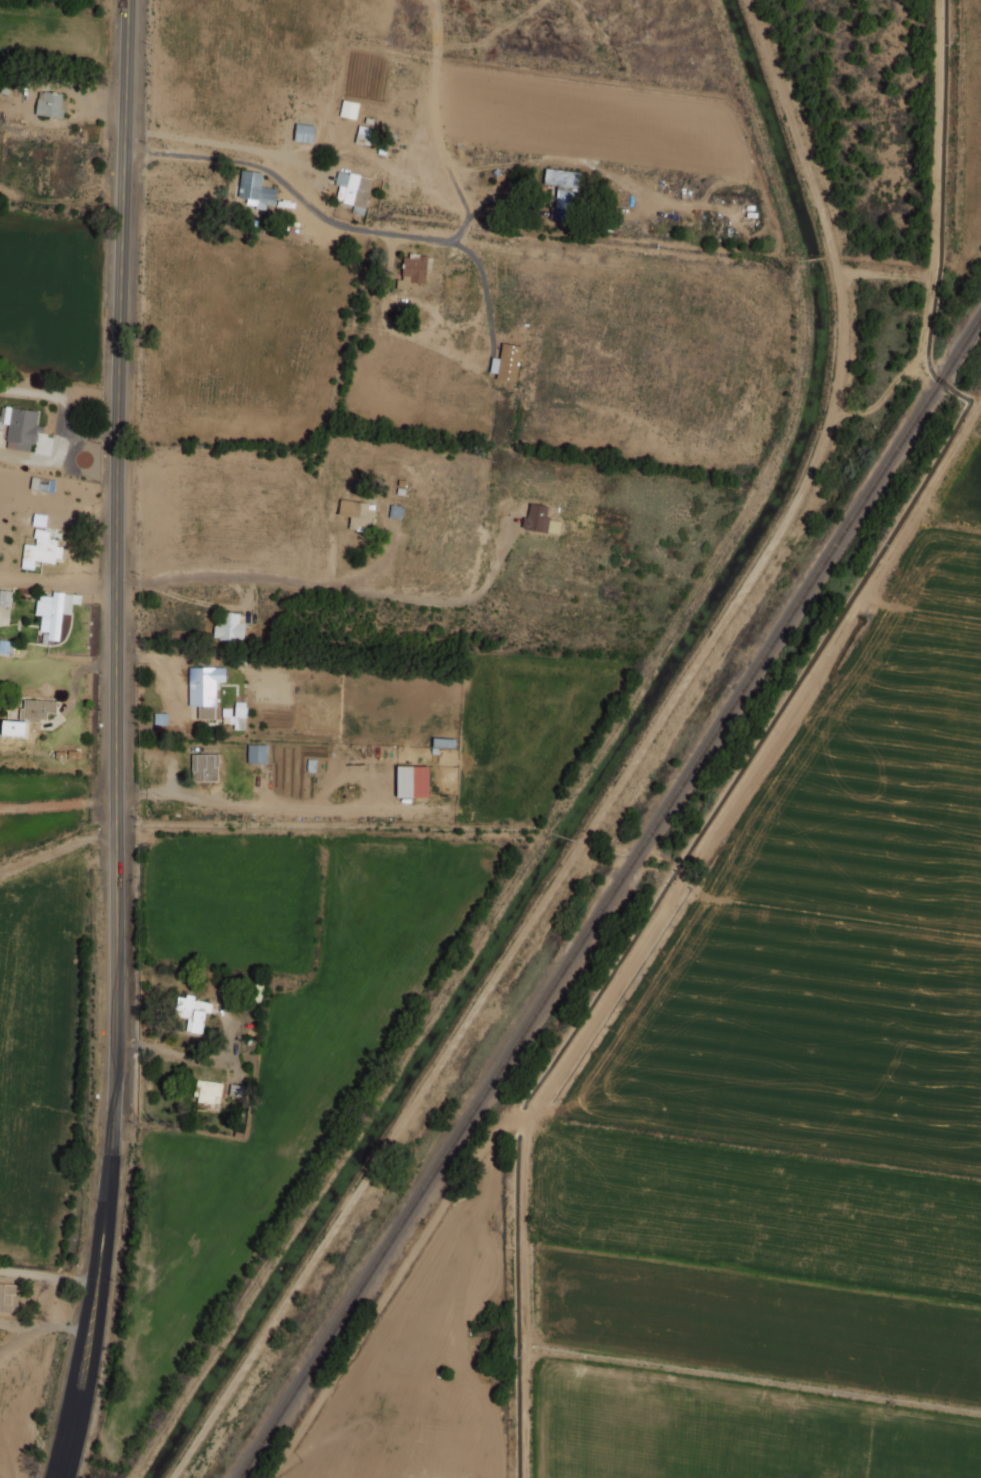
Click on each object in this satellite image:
building: (49, 104)
building: (348, 109)
building: (304, 132)
building: (363, 135)
building: (352, 188)
building: (255, 189)
building: (562, 192)
road: (405, 238)
building: (412, 271)
road: (483, 278)
railway: (961, 344)
railway: (939, 379)
building: (20, 427)
building: (357, 514)
building: (39, 519)
building: (539, 520)
building: (39, 549)
road: (60, 584)
road: (334, 589)
building: (5, 597)
building: (54, 611)
building: (228, 627)
building: (4, 646)
building: (204, 689)
building: (239, 715)
building: (28, 716)
road: (122, 741)
building: (256, 753)
building: (204, 767)
building: (412, 781)
road: (61, 805)
road: (60, 848)
railway: (586, 929)
building: (192, 1012)
building: (208, 1092)
road: (49, 1276)
building: (6, 1296)
road: (16, 1325)
road: (40, 1330)

